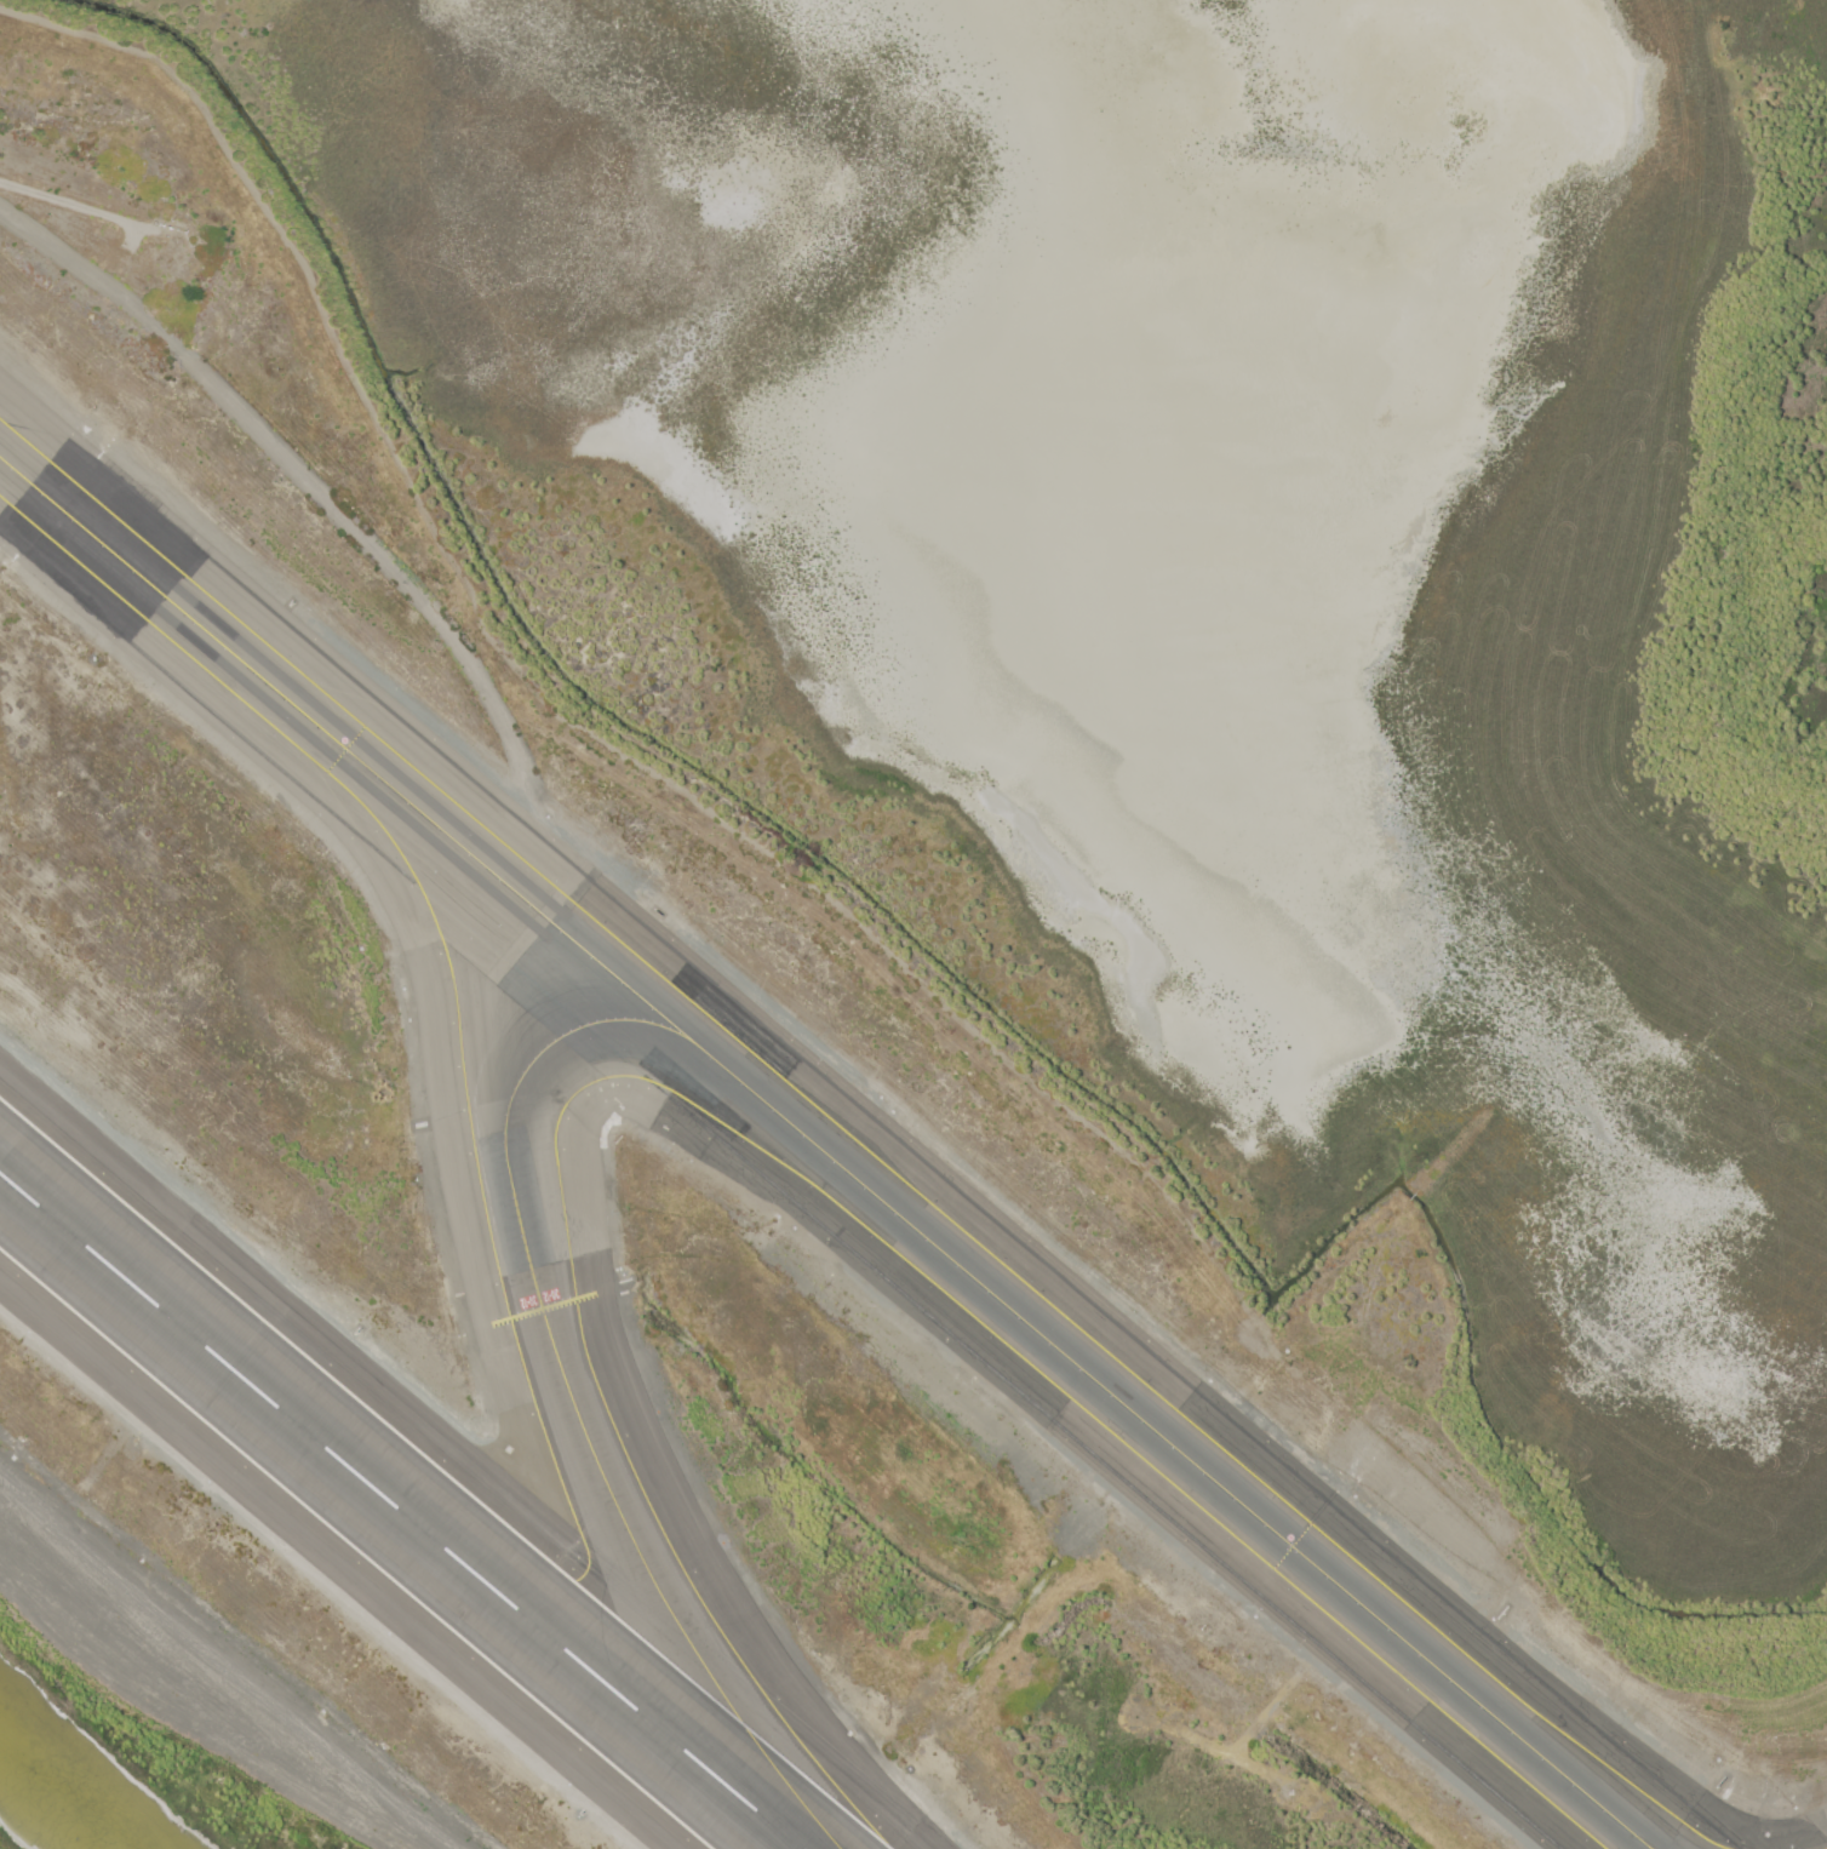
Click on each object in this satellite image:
airport: (913, 925)
airport taxiway: (825, 1152)
airport taxiway: (572, 1397)
airport runway: (400, 1511)

